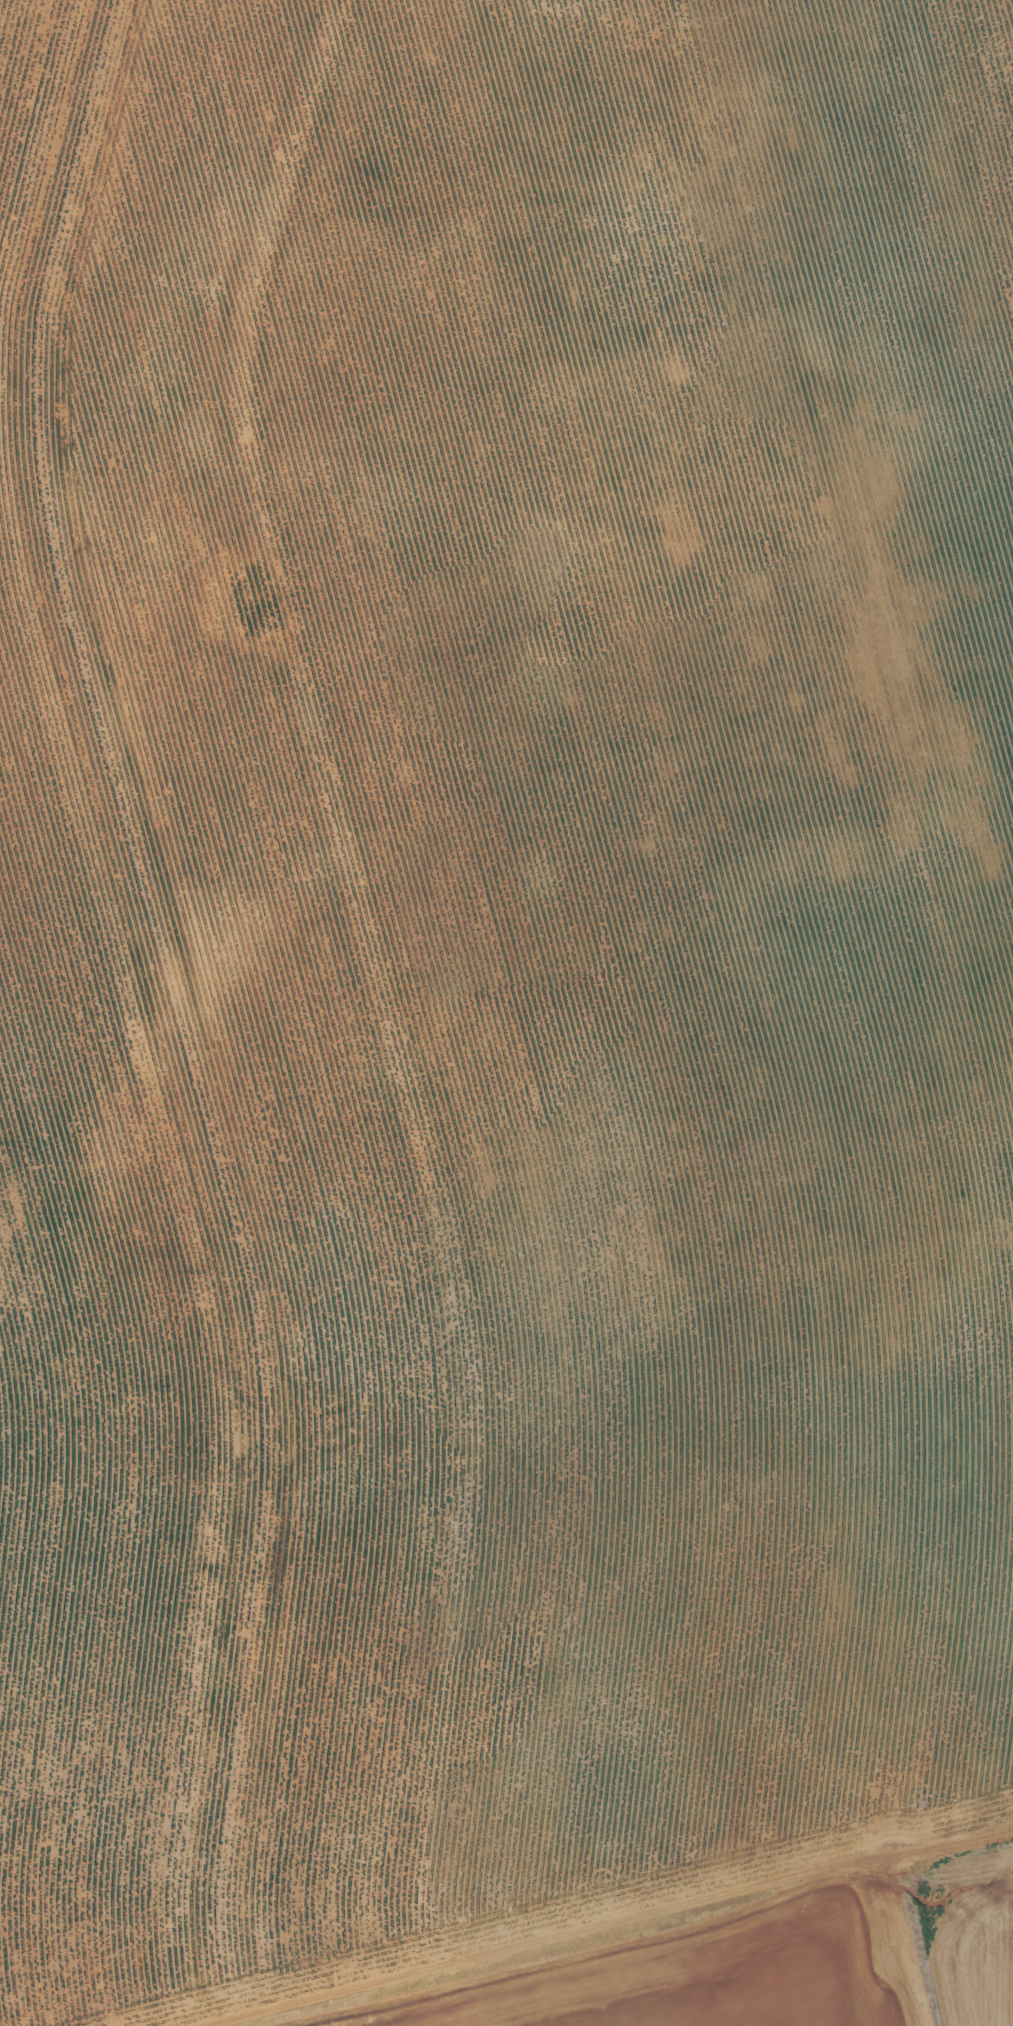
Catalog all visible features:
road: (958, 1853)
road: (925, 1953)

